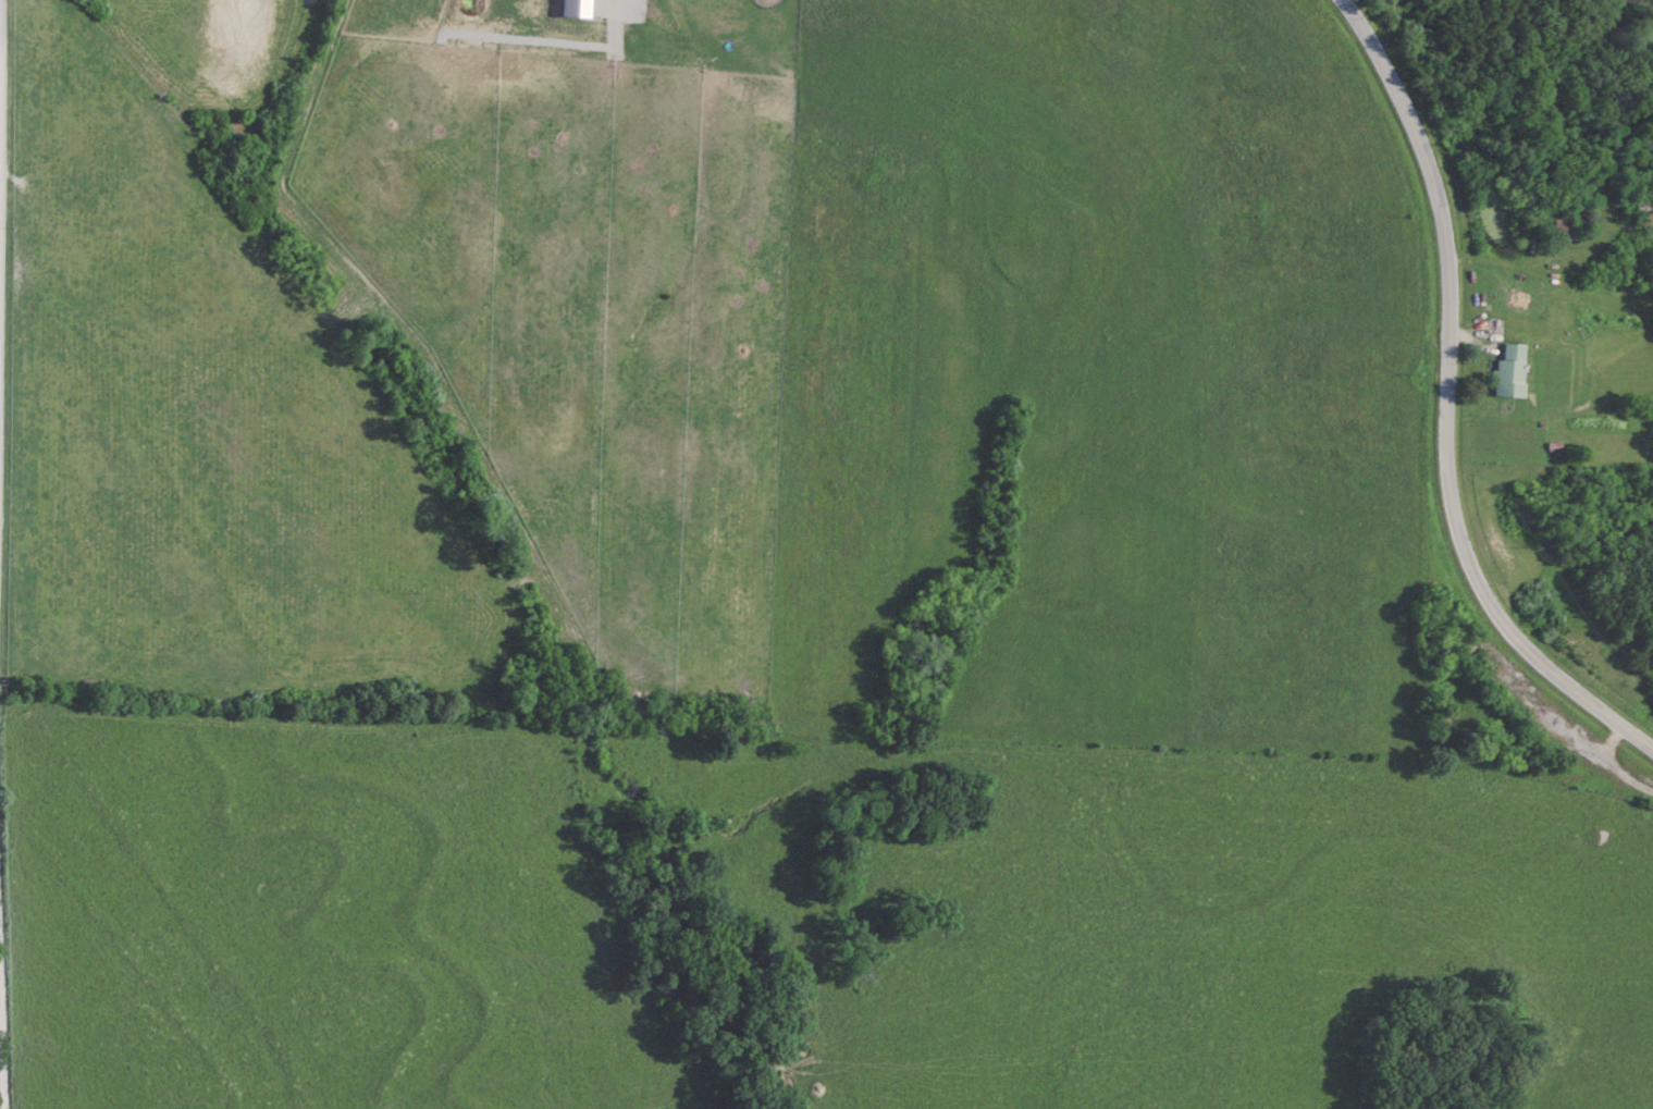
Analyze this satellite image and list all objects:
road: (0, 122)
building: (1644, 207)
building: (1509, 371)
road: (1447, 404)
road: (0, 1025)
road: (2, 1059)

